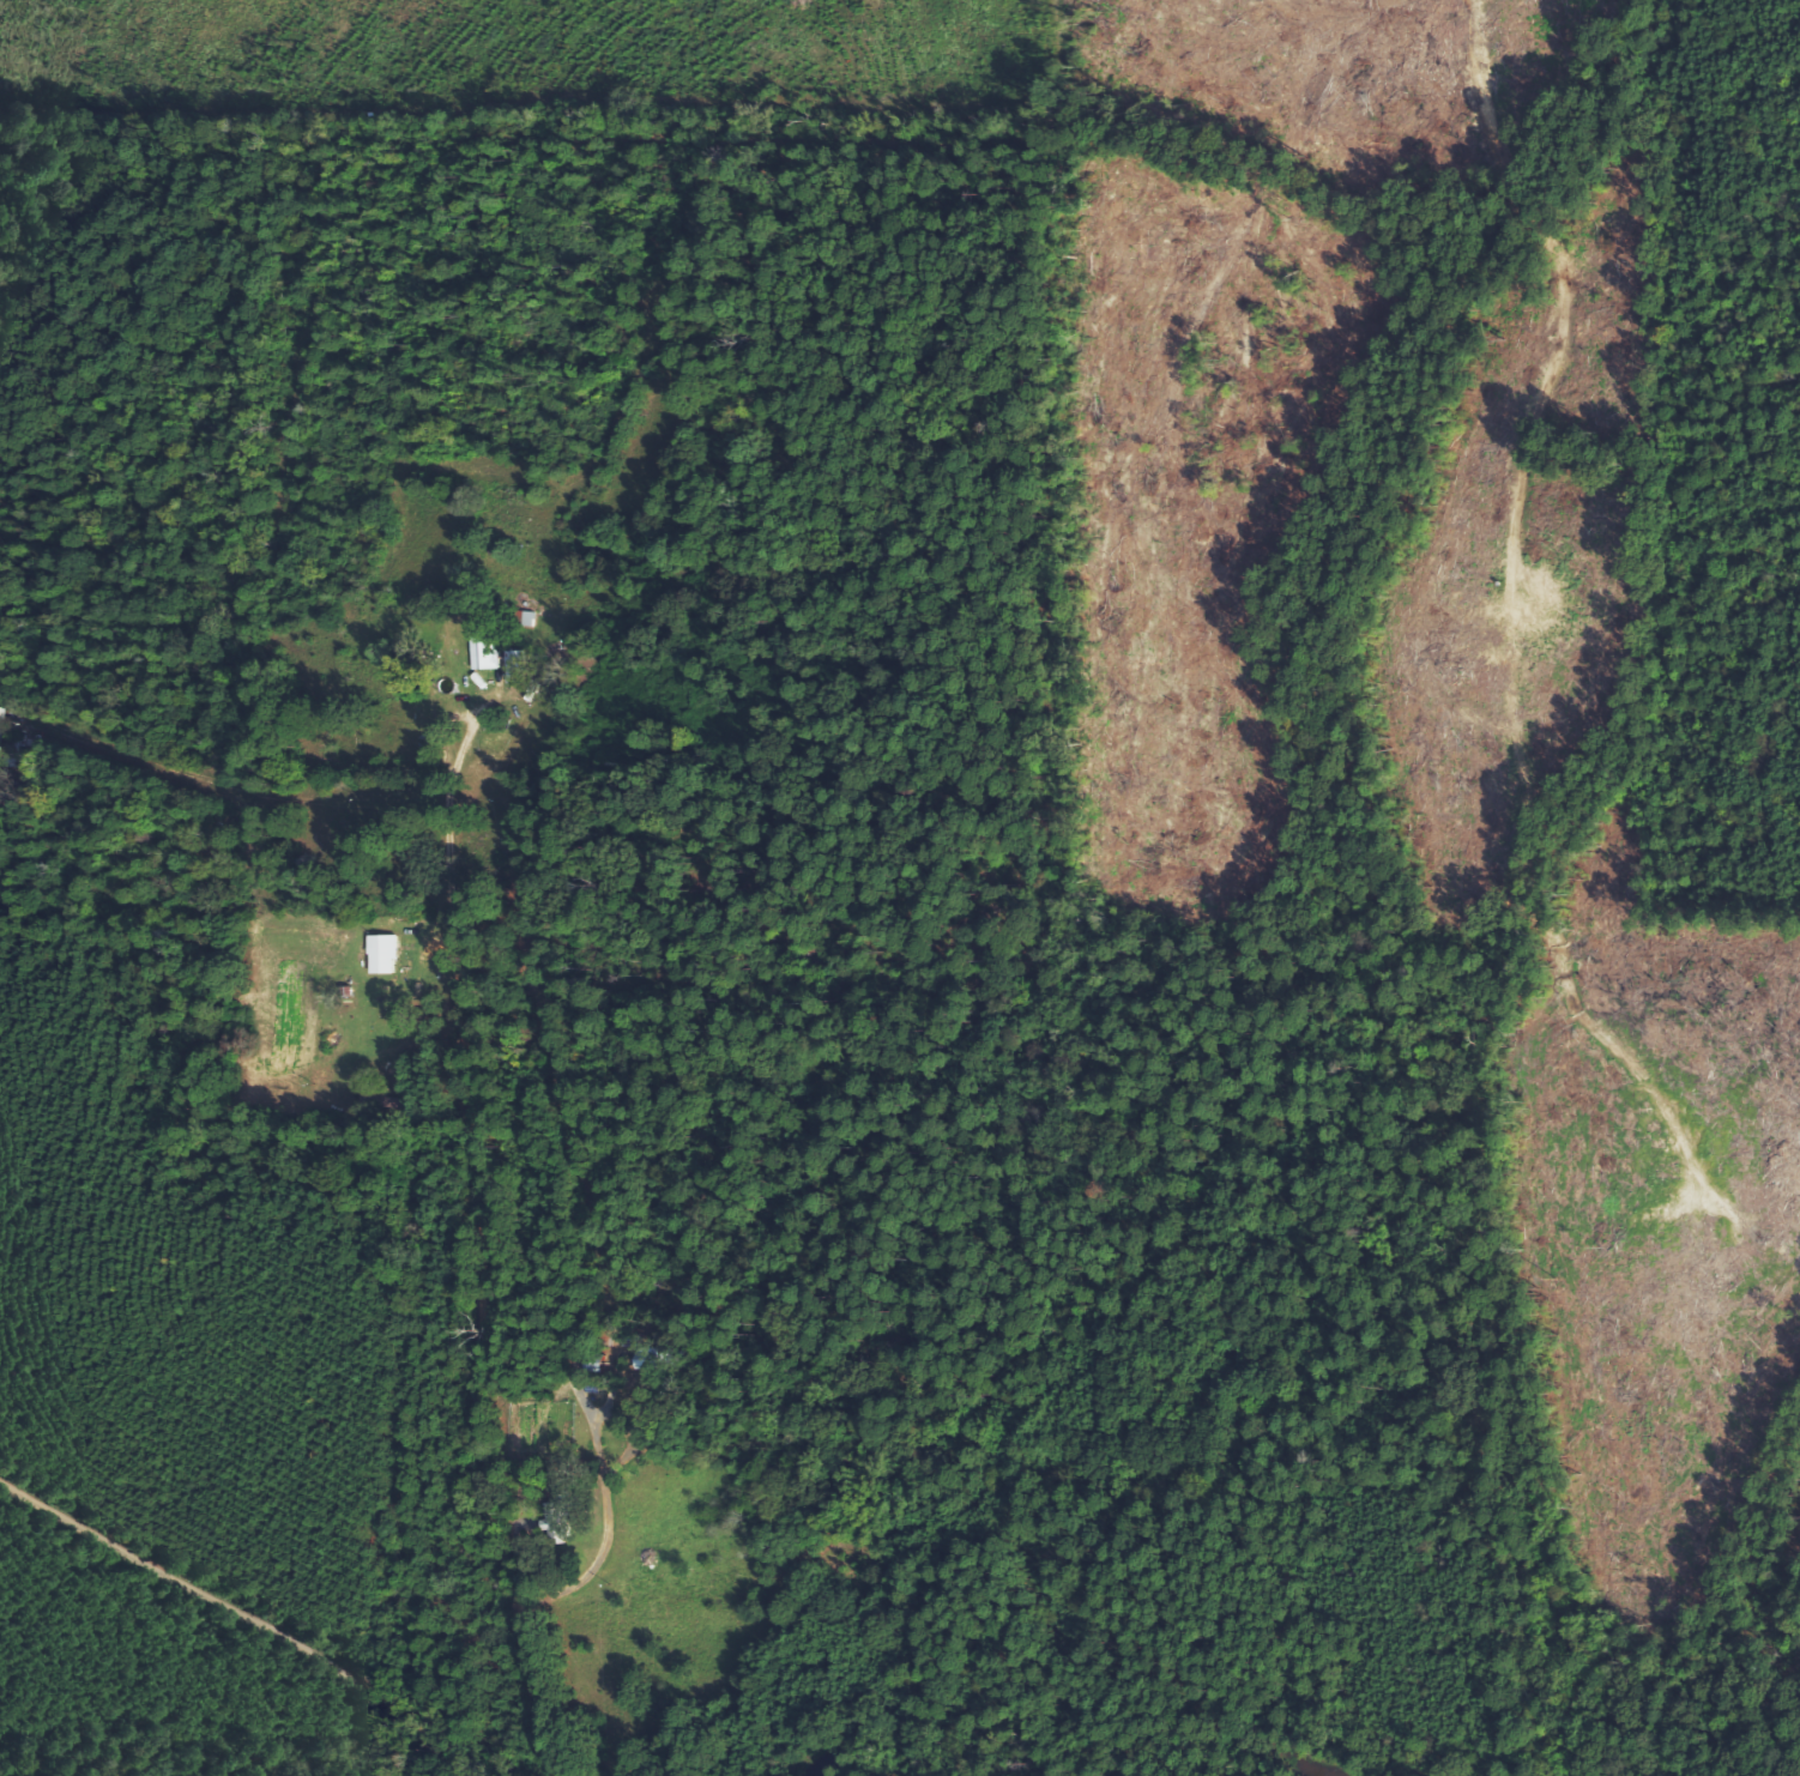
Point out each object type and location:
building: (482, 651)
building: (513, 666)
building: (380, 953)
road: (32, 1067)
road: (487, 1397)
building: (557, 1522)
road: (246, 1621)
road: (938, 1677)

